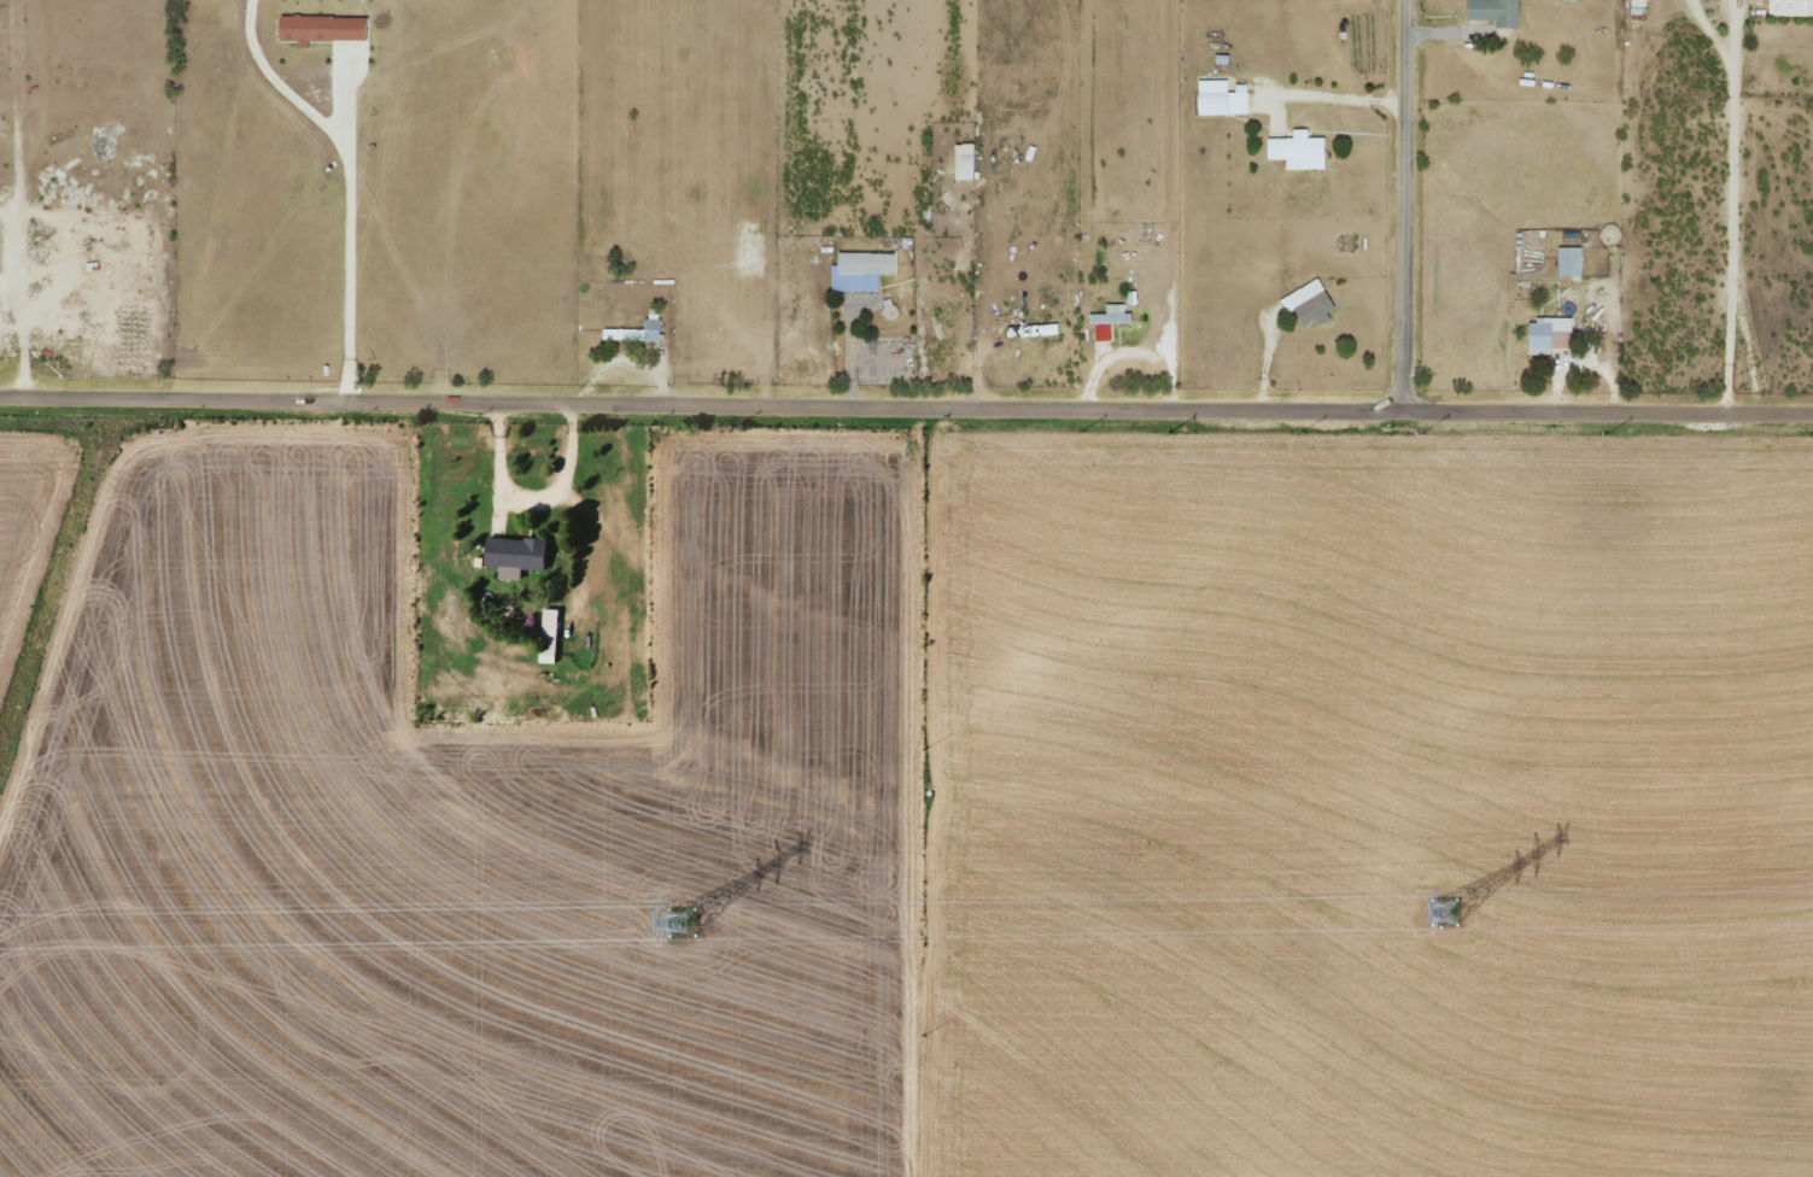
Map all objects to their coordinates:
building: (1637, 7)
building: (1789, 7)
building: (1492, 12)
building: (320, 28)
building: (1220, 98)
building: (1297, 151)
building: (961, 162)
road: (1420, 188)
building: (1567, 262)
building: (859, 270)
building: (1308, 304)
building: (1110, 315)
building: (633, 332)
building: (1548, 335)
road: (906, 377)
building: (511, 555)
building: (546, 634)
power tower: (1440, 913)
power tower: (678, 923)

